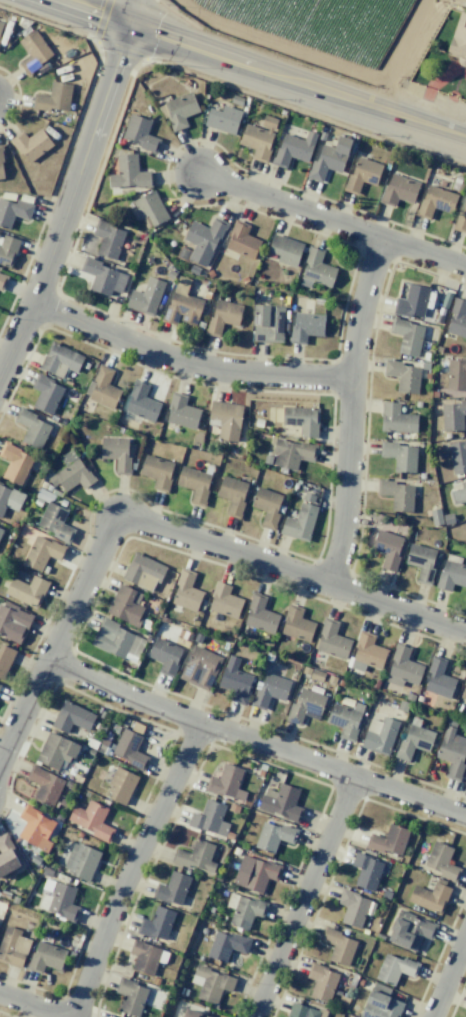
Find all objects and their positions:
building: (0, 24)
crop: (325, 24)
building: (458, 39)
building: (33, 52)
road: (269, 68)
building: (54, 97)
building: (237, 100)
building: (178, 110)
building: (223, 119)
building: (140, 133)
building: (259, 138)
building: (31, 144)
building: (293, 149)
building: (329, 159)
building: (2, 164)
building: (129, 173)
building: (361, 175)
road: (73, 187)
building: (399, 190)
building: (435, 201)
building: (150, 208)
building: (13, 211)
building: (460, 220)
road: (333, 221)
building: (204, 238)
building: (107, 239)
building: (242, 240)
building: (285, 249)
building: (7, 250)
building: (317, 268)
building: (102, 277)
building: (2, 280)
building: (146, 297)
building: (411, 301)
building: (181, 305)
building: (222, 317)
building: (458, 317)
building: (268, 323)
building: (306, 327)
building: (407, 335)
building: (60, 360)
road: (186, 362)
building: (456, 374)
building: (402, 375)
building: (103, 388)
building: (45, 394)
building: (140, 402)
building: (181, 411)
road: (349, 411)
building: (453, 415)
building: (226, 419)
building: (301, 419)
building: (396, 419)
building: (31, 428)
building: (116, 453)
building: (290, 453)
building: (399, 455)
building: (458, 456)
building: (14, 463)
building: (156, 472)
building: (72, 476)
building: (194, 484)
building: (459, 493)
building: (232, 495)
building: (397, 495)
building: (9, 498)
building: (267, 506)
building: (436, 516)
building: (448, 519)
building: (300, 520)
building: (55, 522)
building: (0, 528)
road: (165, 529)
building: (1, 531)
building: (387, 549)
building: (42, 552)
building: (421, 562)
building: (143, 571)
building: (450, 576)
building: (26, 590)
building: (186, 592)
building: (224, 600)
building: (126, 606)
building: (260, 614)
building: (13, 622)
building: (296, 623)
building: (111, 638)
building: (331, 640)
building: (366, 653)
building: (165, 656)
building: (5, 659)
building: (402, 667)
building: (200, 668)
building: (313, 673)
building: (438, 678)
building: (331, 680)
building: (235, 681)
building: (464, 687)
building: (269, 690)
building: (410, 696)
building: (305, 705)
building: (402, 706)
building: (72, 717)
building: (345, 719)
building: (451, 721)
building: (100, 727)
building: (380, 735)
building: (414, 740)
road: (255, 742)
building: (56, 750)
building: (130, 750)
building: (452, 753)
building: (465, 782)
building: (226, 783)
building: (121, 784)
building: (45, 785)
building: (281, 802)
building: (209, 818)
building: (92, 819)
building: (35, 827)
building: (274, 836)
building: (390, 841)
building: (6, 855)
building: (196, 856)
building: (35, 859)
building: (81, 861)
building: (441, 861)
building: (366, 871)
building: (47, 872)
building: (255, 873)
road: (127, 876)
building: (172, 889)
road: (303, 896)
building: (430, 897)
building: (60, 902)
building: (353, 907)
building: (244, 909)
building: (157, 923)
building: (410, 930)
building: (226, 945)
building: (337, 946)
building: (13, 947)
building: (46, 957)
building: (144, 957)
building: (396, 968)
road: (448, 975)
building: (321, 981)
building: (211, 984)
building: (130, 996)
road: (23, 1003)
building: (380, 1003)
building: (304, 1011)
building: (192, 1014)
building: (177, 1016)

